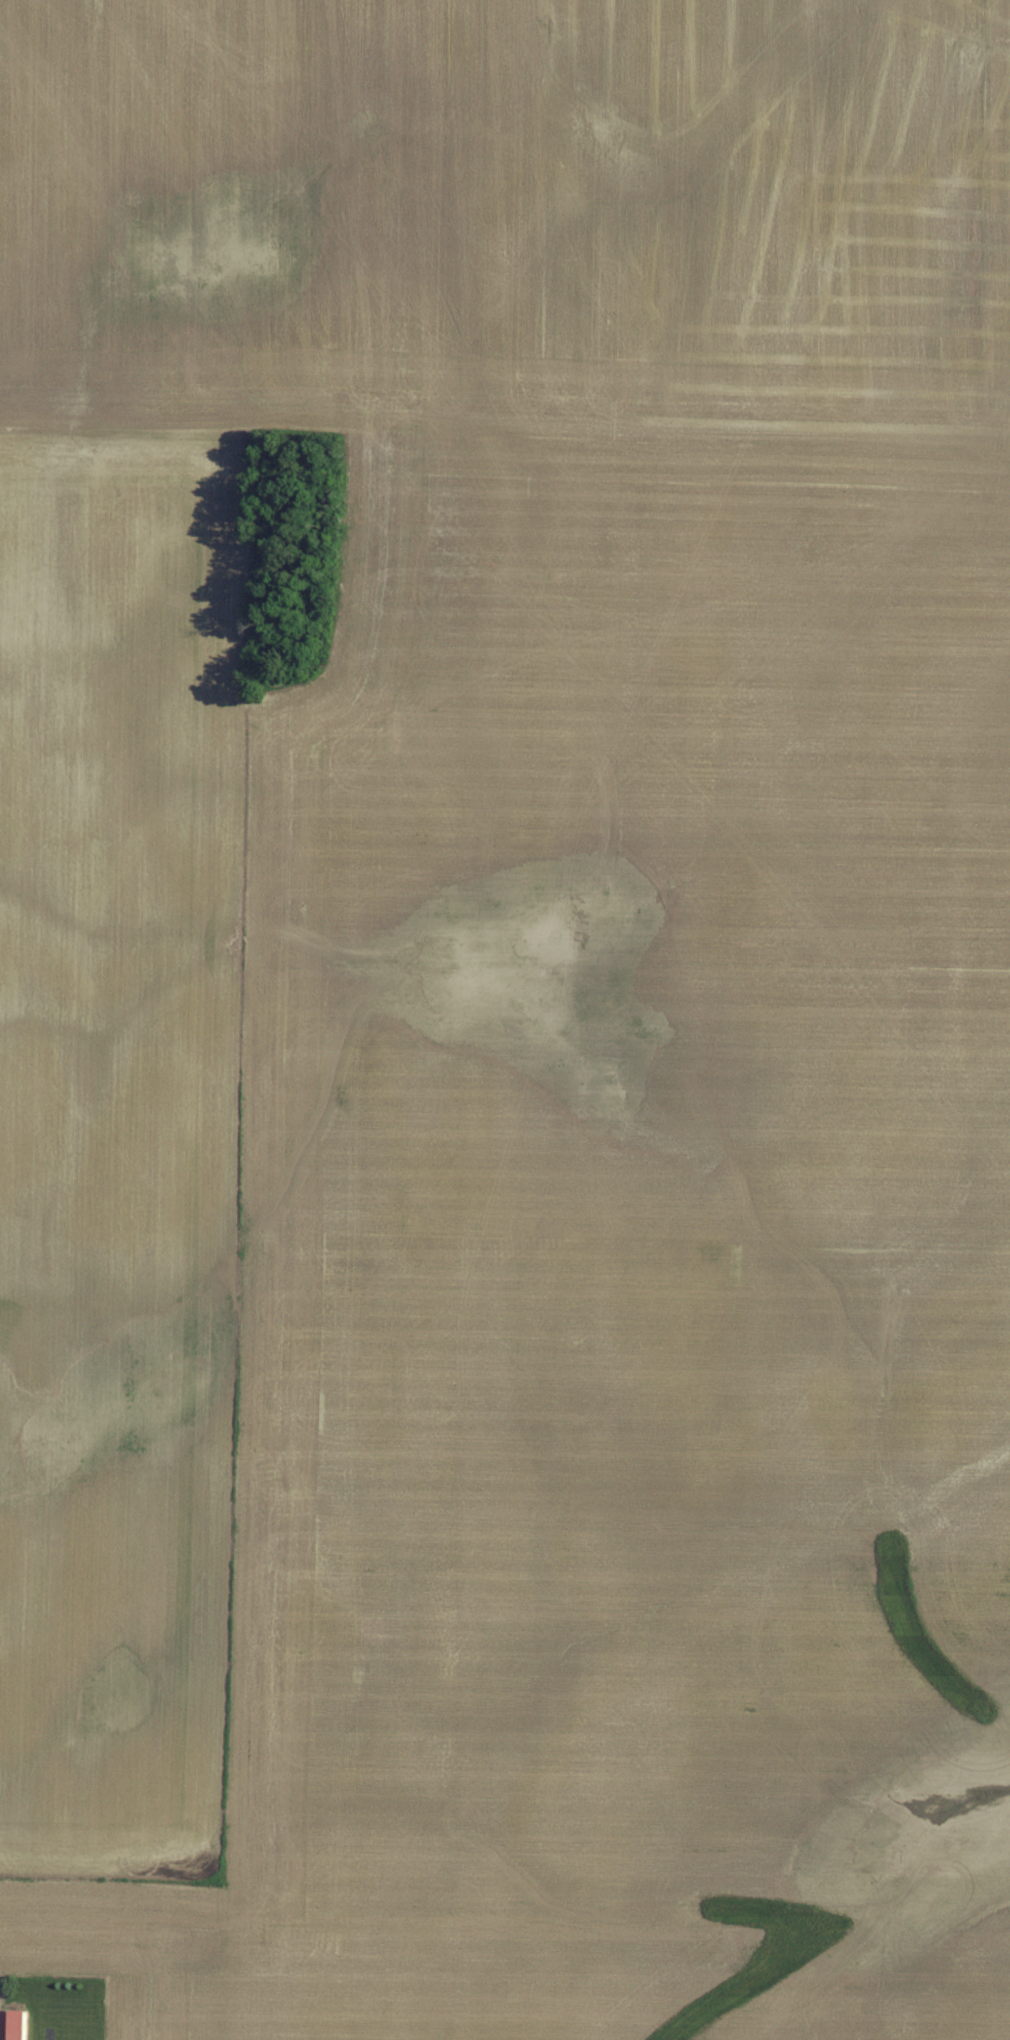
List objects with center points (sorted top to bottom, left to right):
building: (17, 2024)

